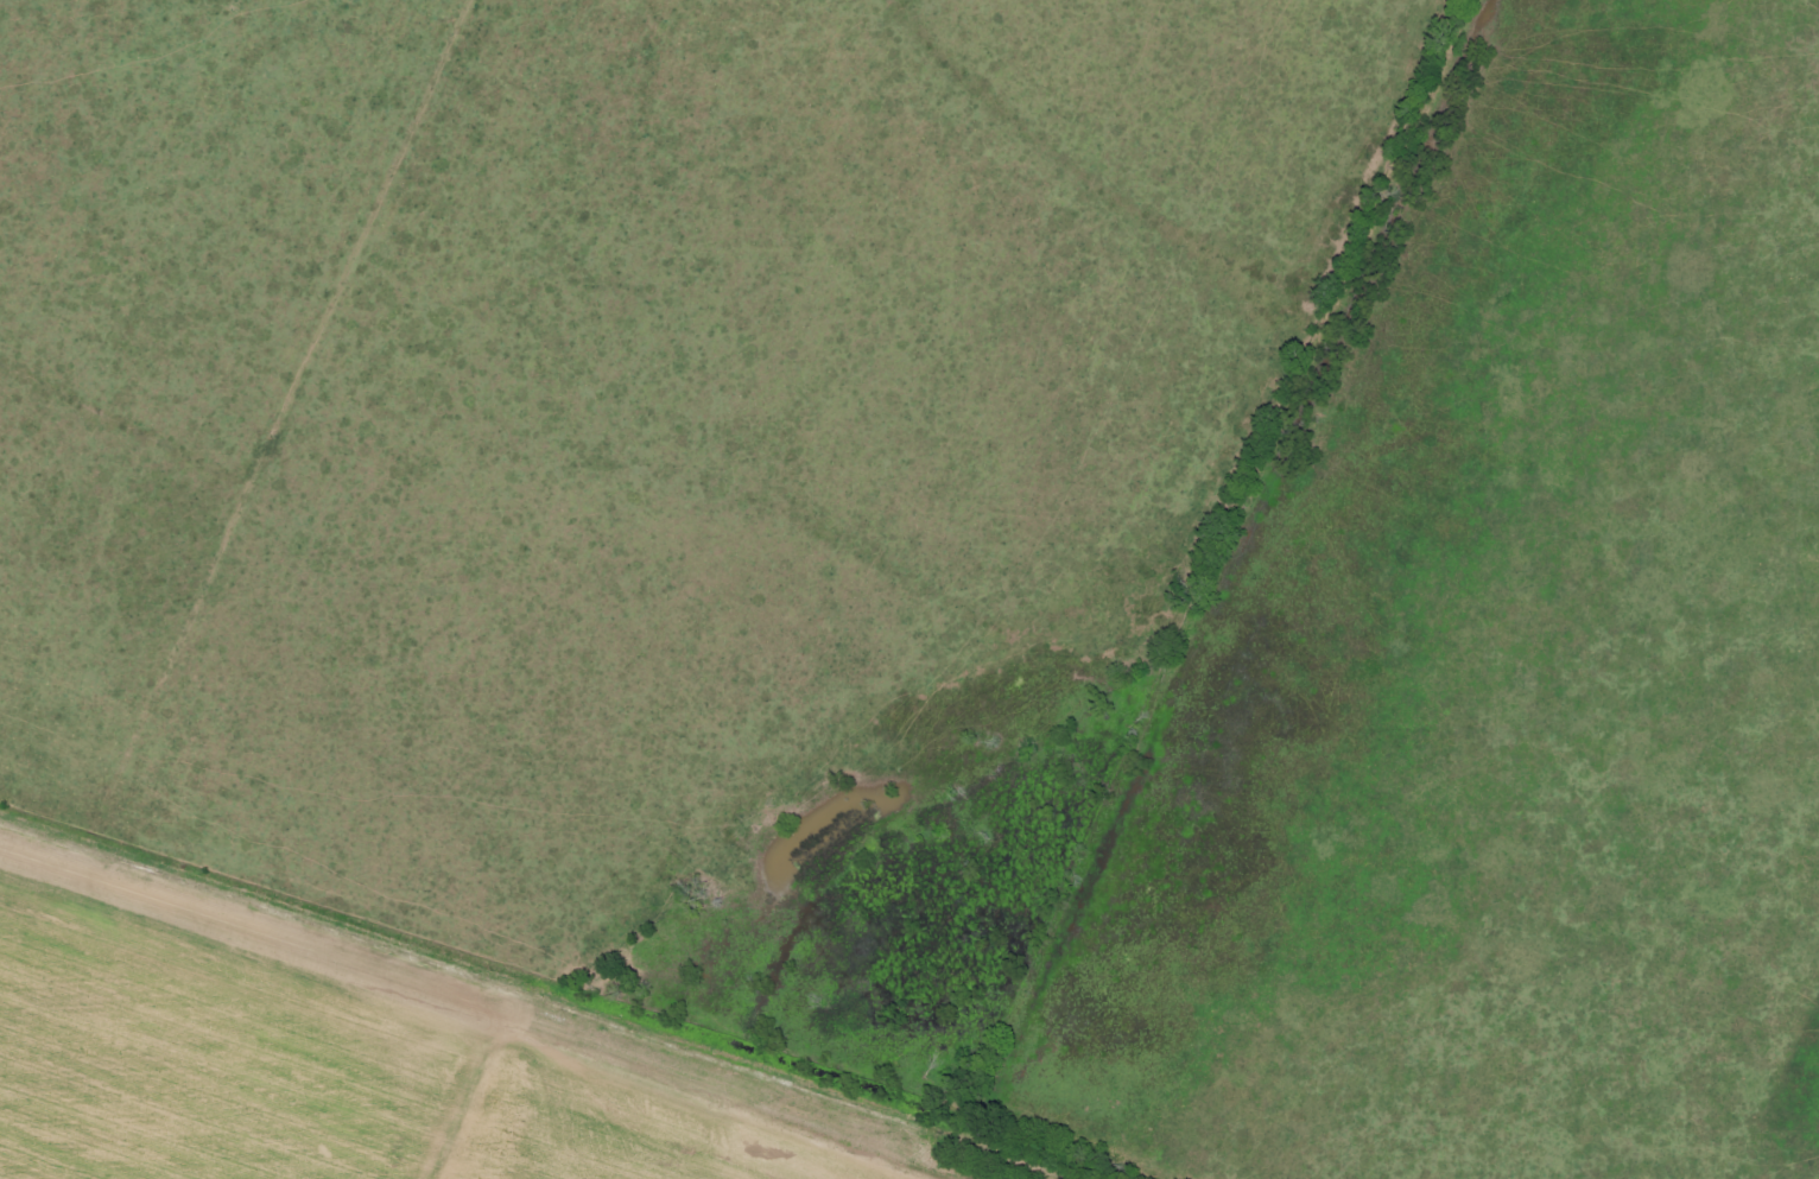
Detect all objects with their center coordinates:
railway: (522, 1009)

